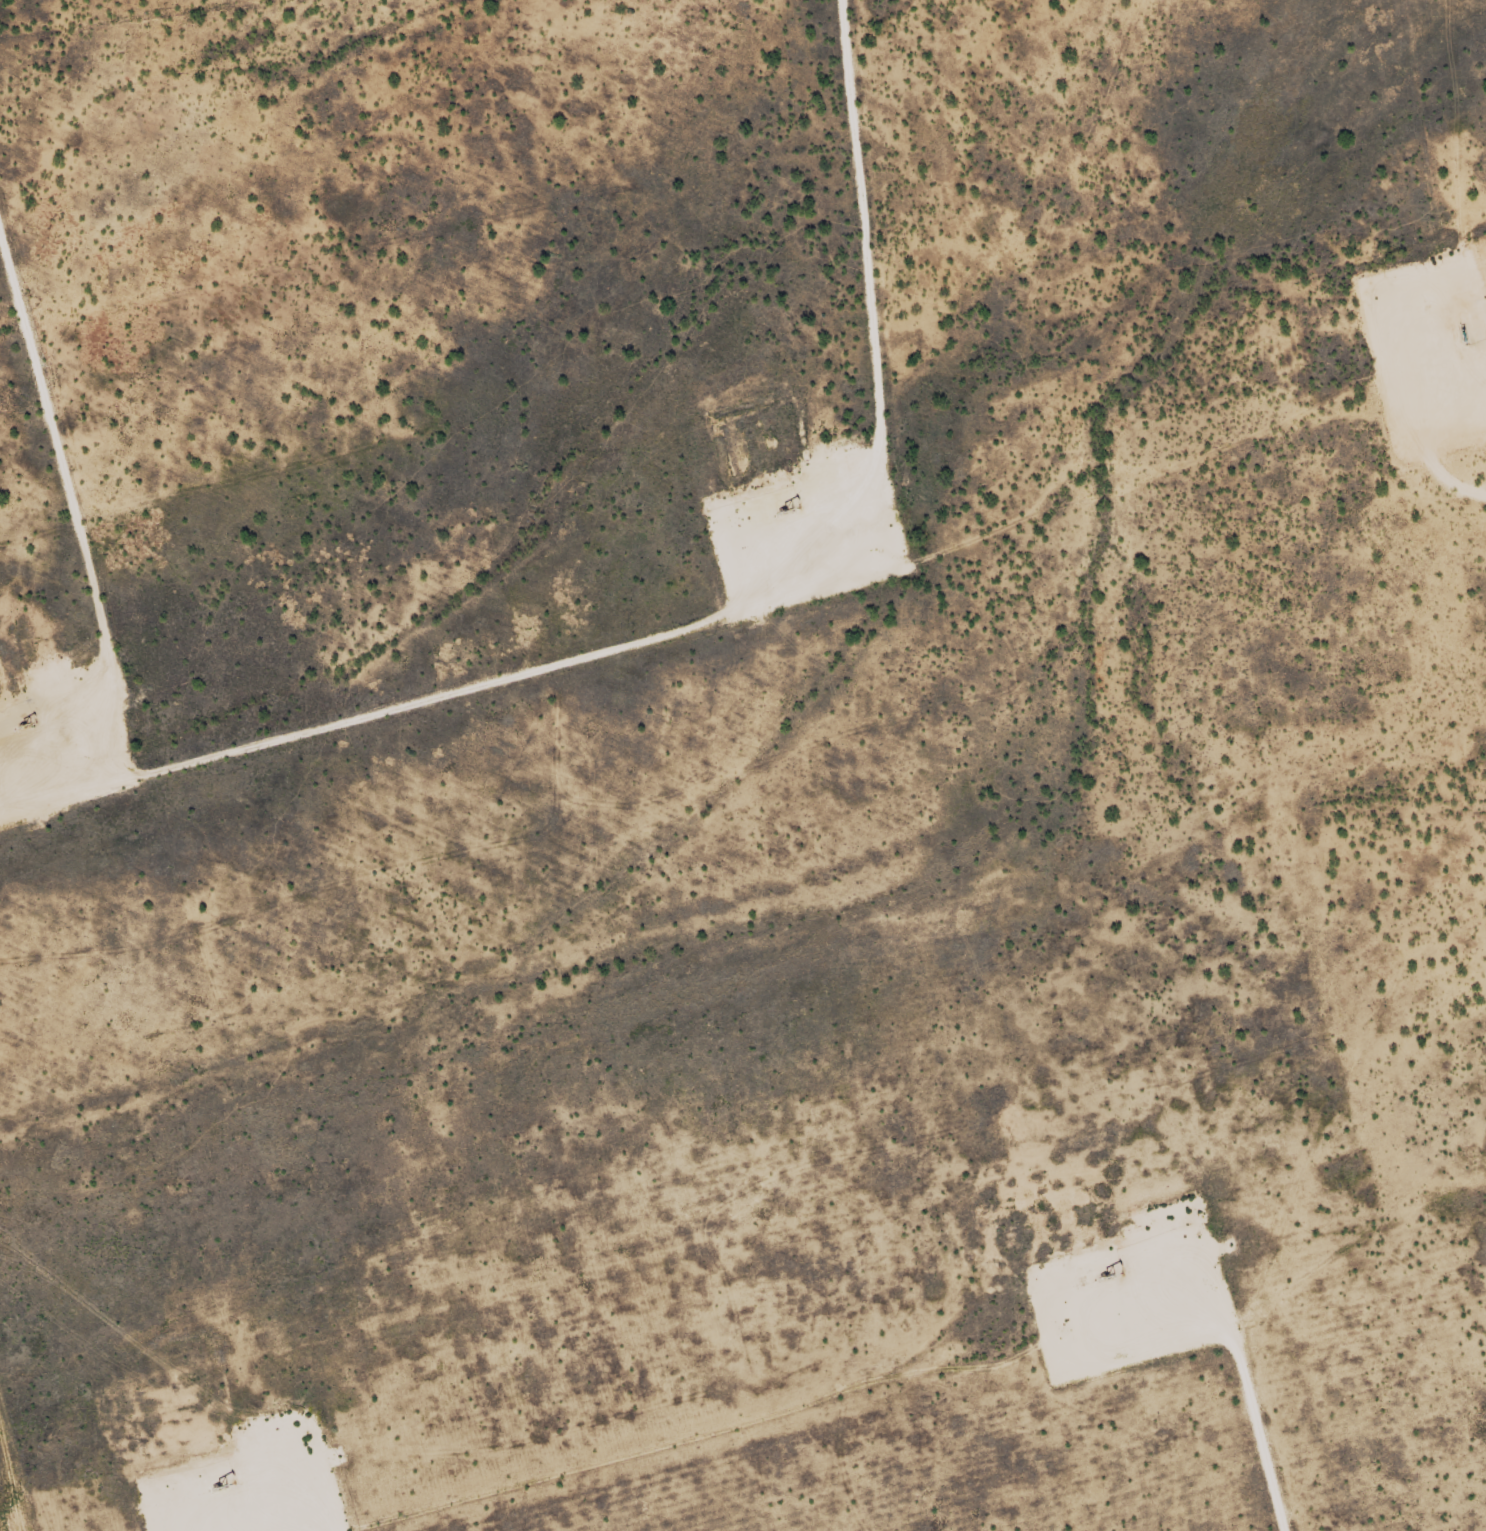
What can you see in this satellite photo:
road: (886, 1373)
road: (339, 1530)

